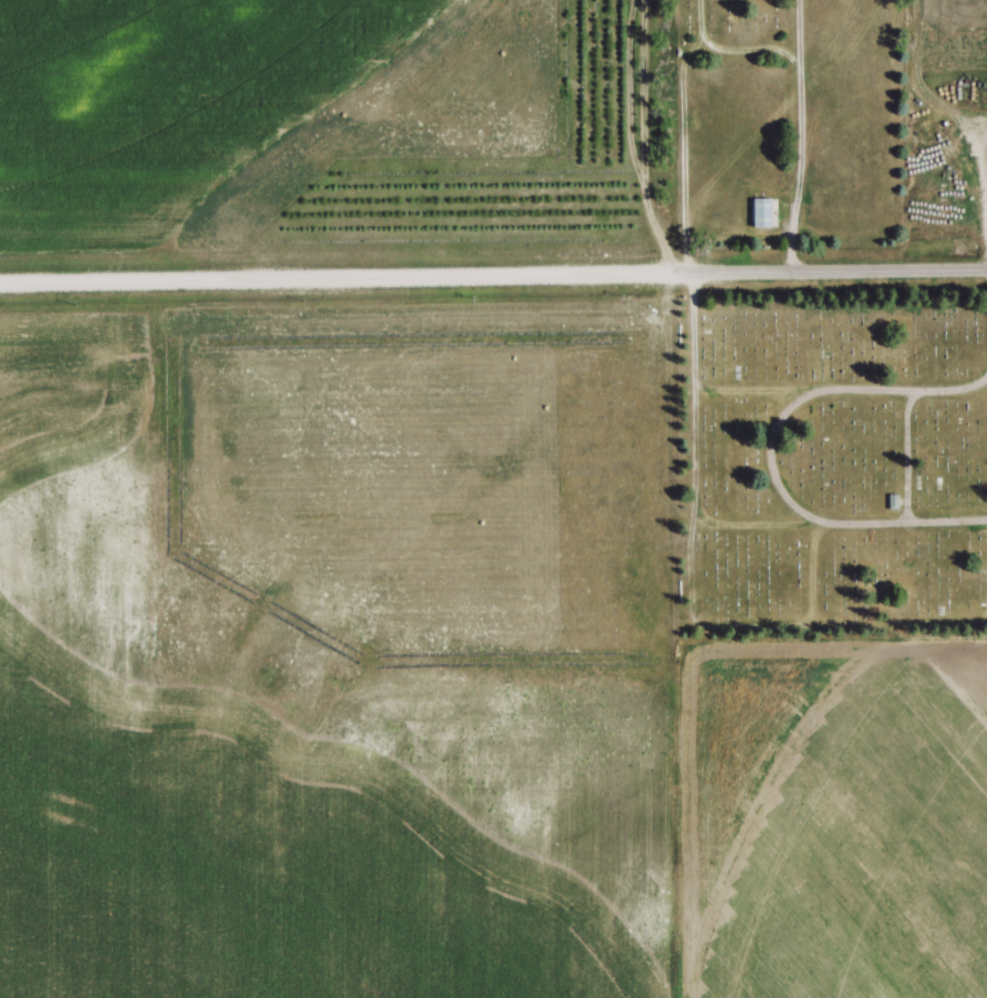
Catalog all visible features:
road: (767, 49)
road: (801, 167)
building: (760, 214)
road: (493, 273)
road: (772, 451)

